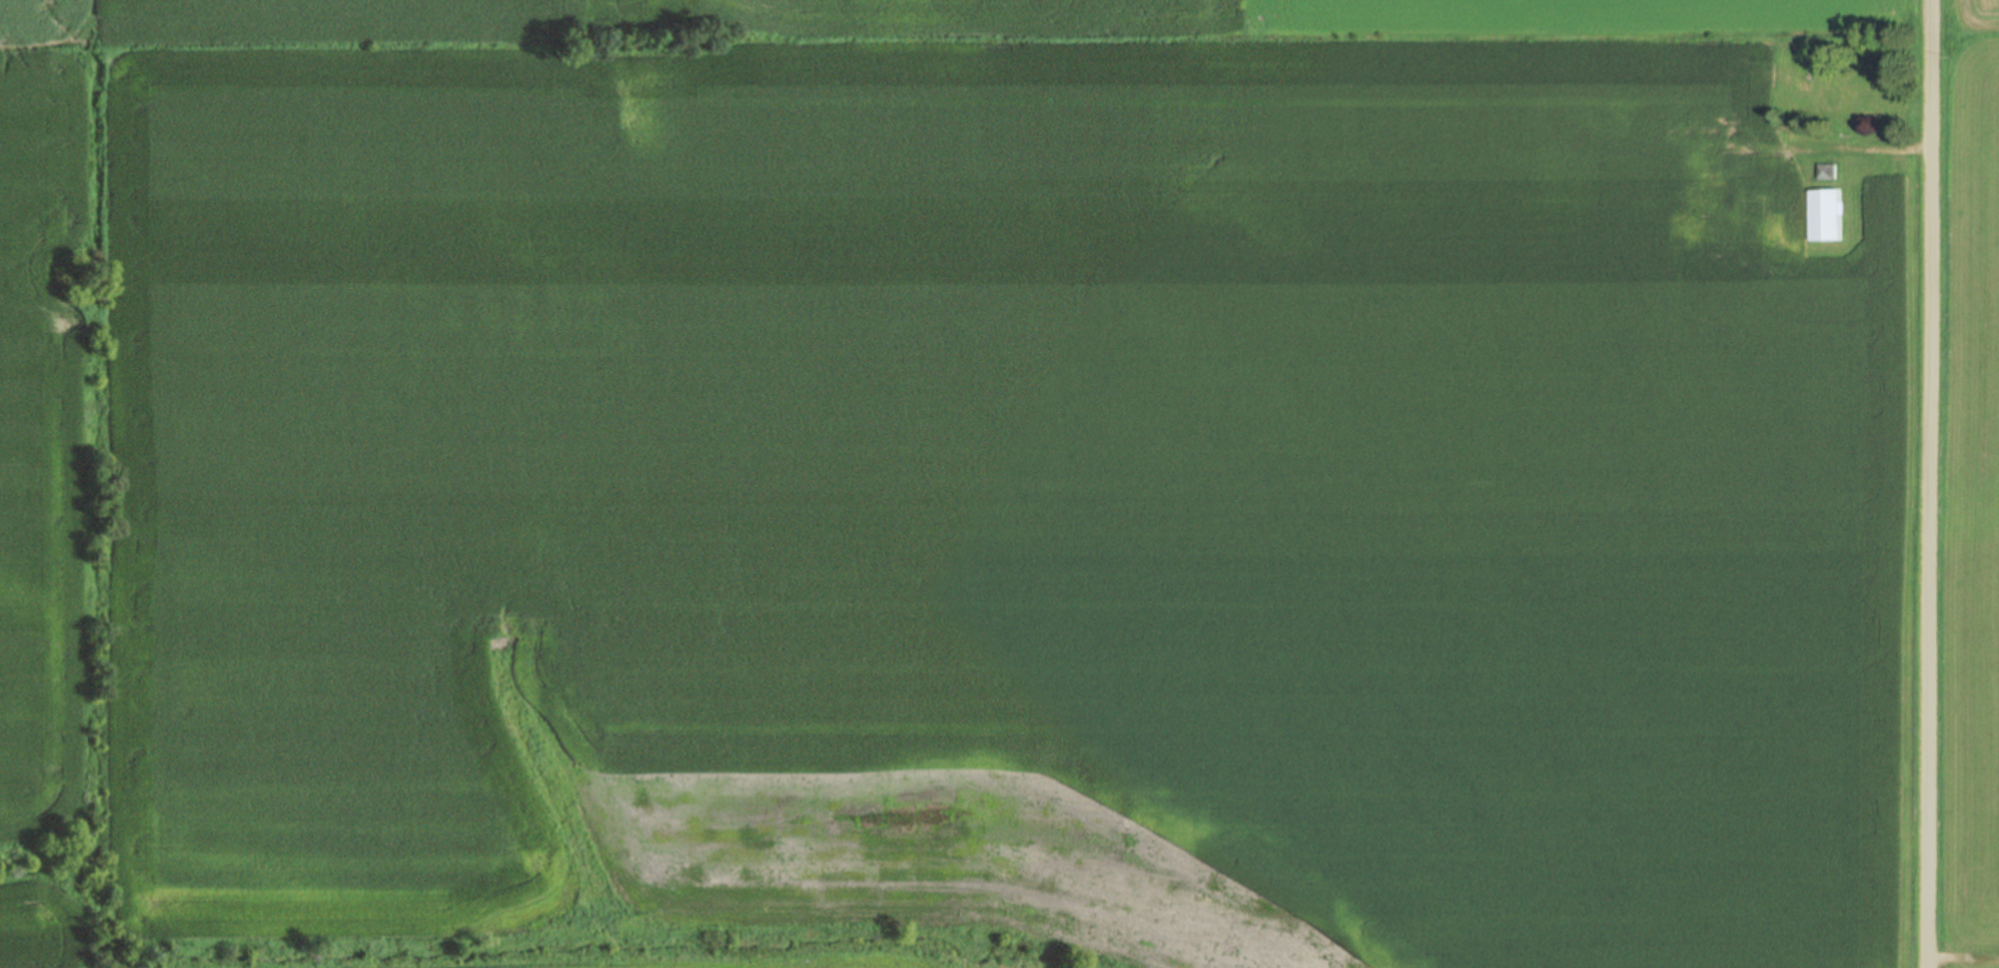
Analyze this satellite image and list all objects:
road: (1858, 148)
building: (1825, 172)
building: (1825, 214)
road: (1927, 484)
road: (1962, 959)

